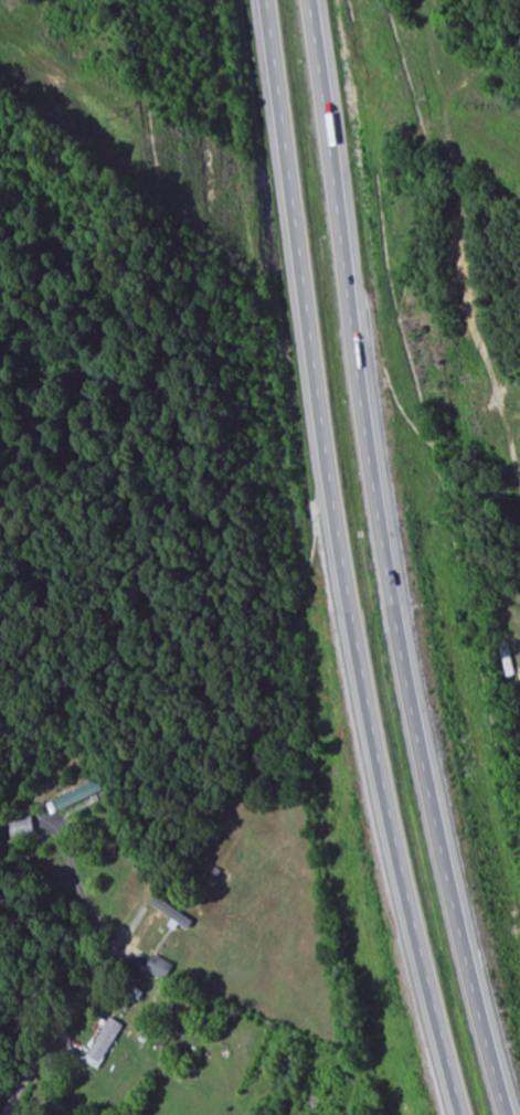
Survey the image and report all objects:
road: (340, 561)
road: (389, 561)
building: (82, 795)
building: (161, 967)
road: (54, 1038)
building: (106, 1042)

